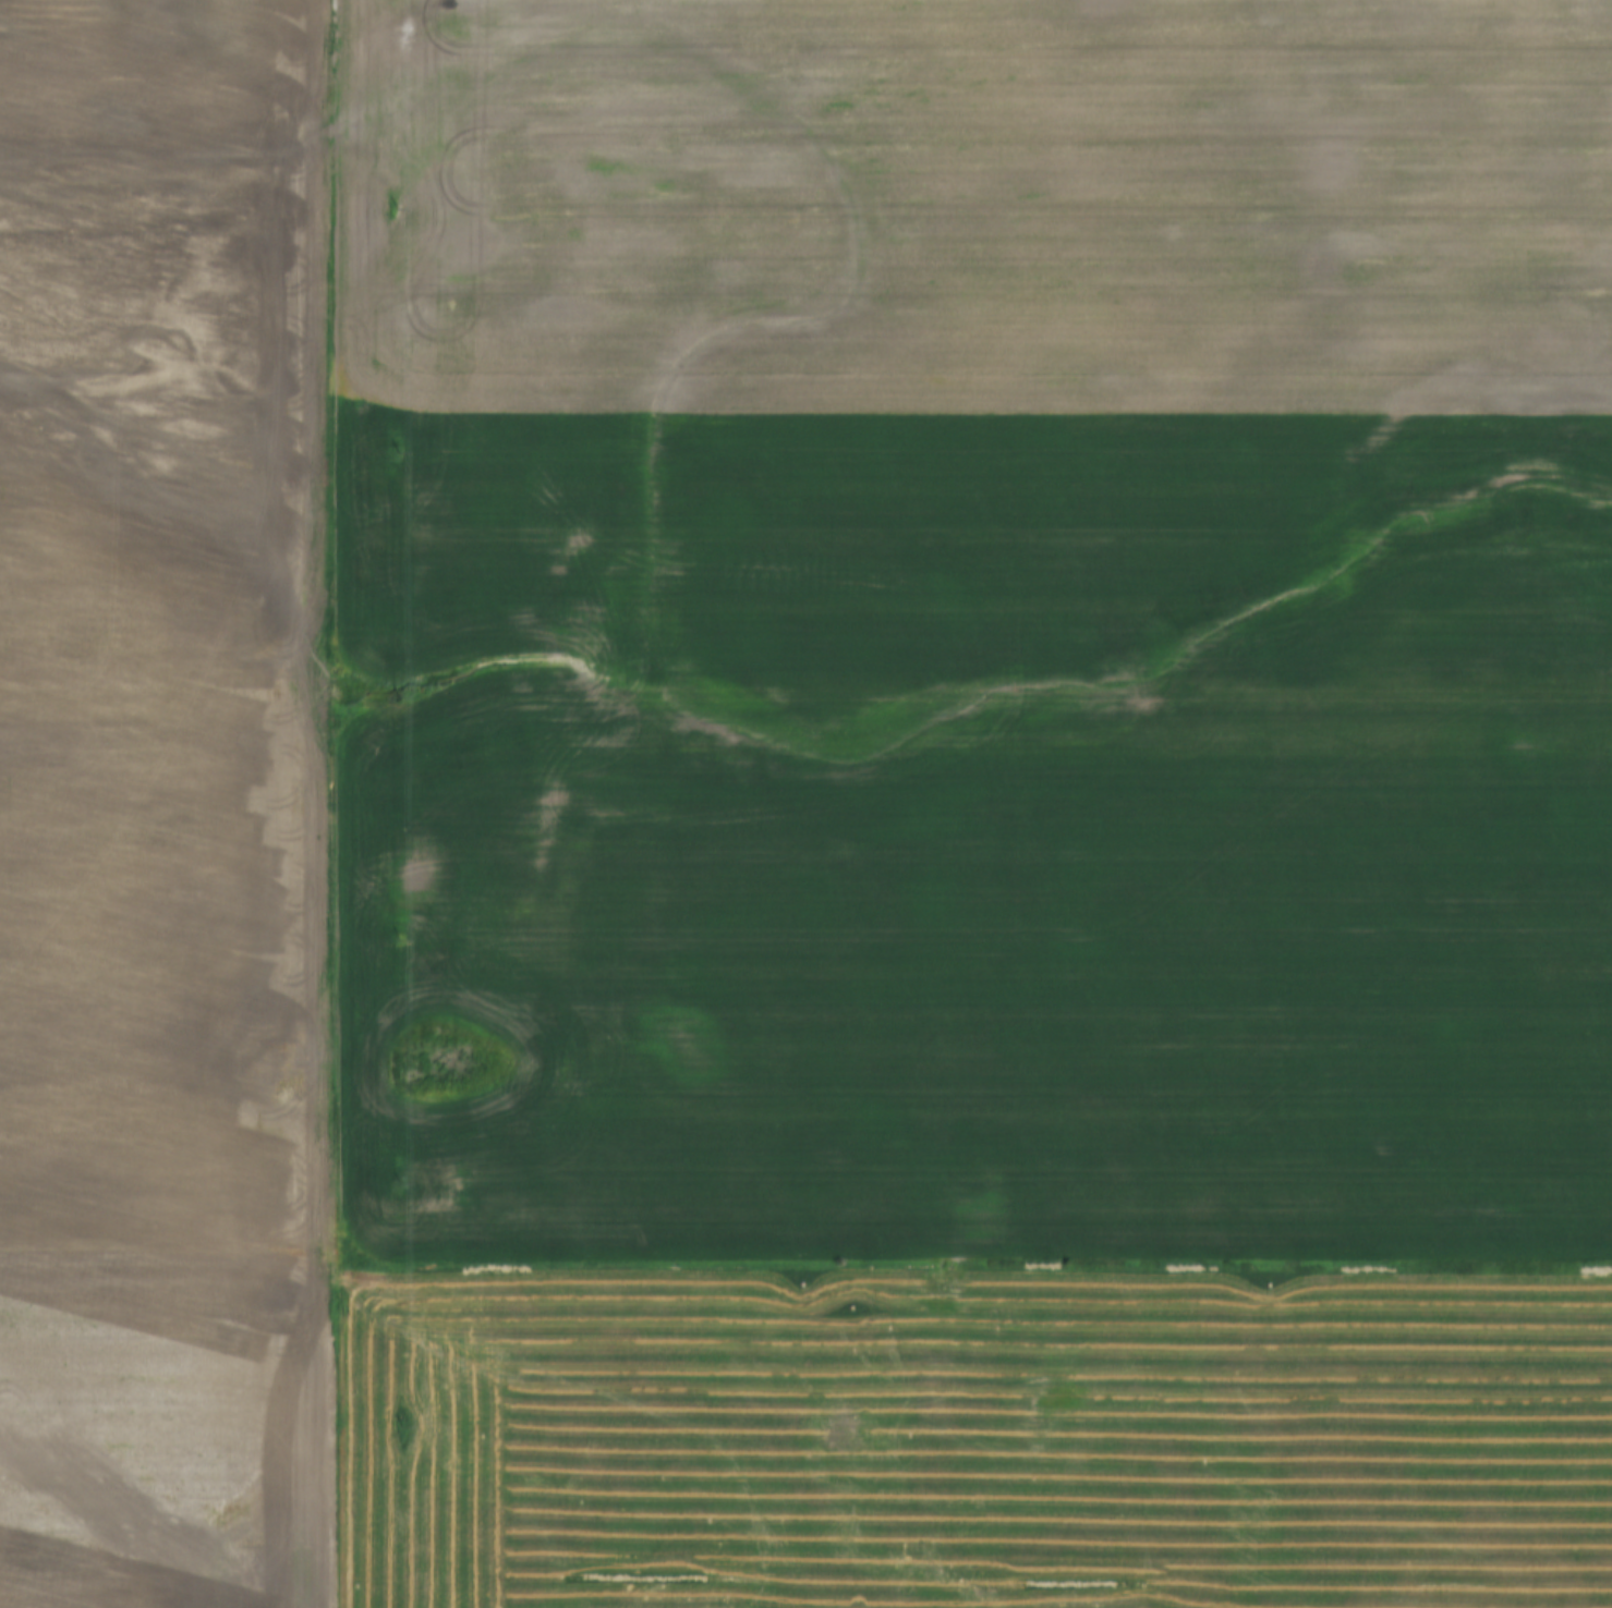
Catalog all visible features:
road: (343, 803)

